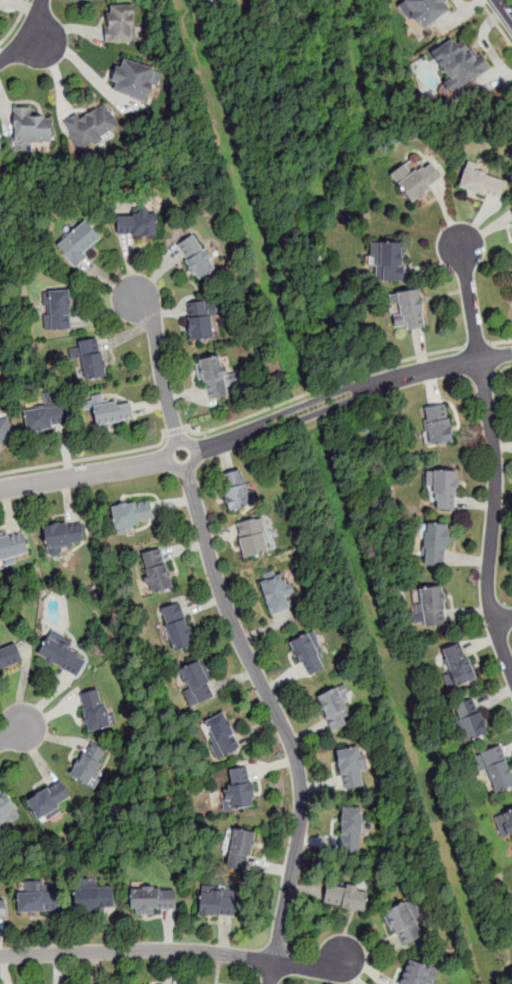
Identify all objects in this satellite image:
building: (206, 0)
building: (1, 1)
building: (214, 1)
road: (504, 9)
building: (423, 12)
road: (14, 22)
road: (496, 22)
building: (123, 27)
road: (26, 35)
road: (34, 40)
building: (459, 65)
road: (90, 72)
building: (137, 82)
building: (95, 128)
building: (35, 130)
building: (1, 147)
building: (413, 181)
building: (481, 185)
building: (511, 211)
building: (140, 223)
building: (82, 244)
building: (199, 258)
building: (388, 264)
building: (511, 275)
road: (468, 289)
building: (60, 310)
building: (409, 312)
building: (204, 322)
road: (502, 341)
road: (478, 345)
road: (477, 347)
road: (508, 353)
road: (481, 358)
building: (96, 362)
road: (502, 368)
road: (160, 369)
road: (482, 373)
building: (219, 379)
road: (324, 388)
road: (325, 403)
building: (46, 414)
building: (116, 414)
building: (434, 426)
road: (176, 430)
building: (6, 431)
road: (85, 458)
road: (192, 465)
road: (83, 474)
building: (445, 490)
building: (236, 493)
building: (130, 516)
road: (490, 533)
building: (66, 536)
building: (252, 536)
building: (435, 544)
building: (13, 549)
building: (157, 570)
building: (276, 590)
building: (432, 607)
road: (502, 621)
building: (177, 626)
building: (60, 653)
building: (307, 653)
building: (9, 655)
building: (457, 665)
building: (448, 678)
building: (198, 681)
building: (332, 707)
building: (94, 709)
building: (469, 719)
road: (280, 720)
building: (222, 732)
road: (12, 734)
building: (351, 764)
building: (90, 765)
building: (495, 769)
building: (241, 787)
building: (49, 799)
building: (7, 809)
building: (508, 822)
building: (352, 827)
building: (0, 831)
building: (240, 848)
building: (93, 896)
building: (347, 897)
building: (40, 898)
building: (152, 898)
building: (217, 903)
building: (3, 908)
building: (404, 920)
road: (172, 950)
building: (418, 973)

